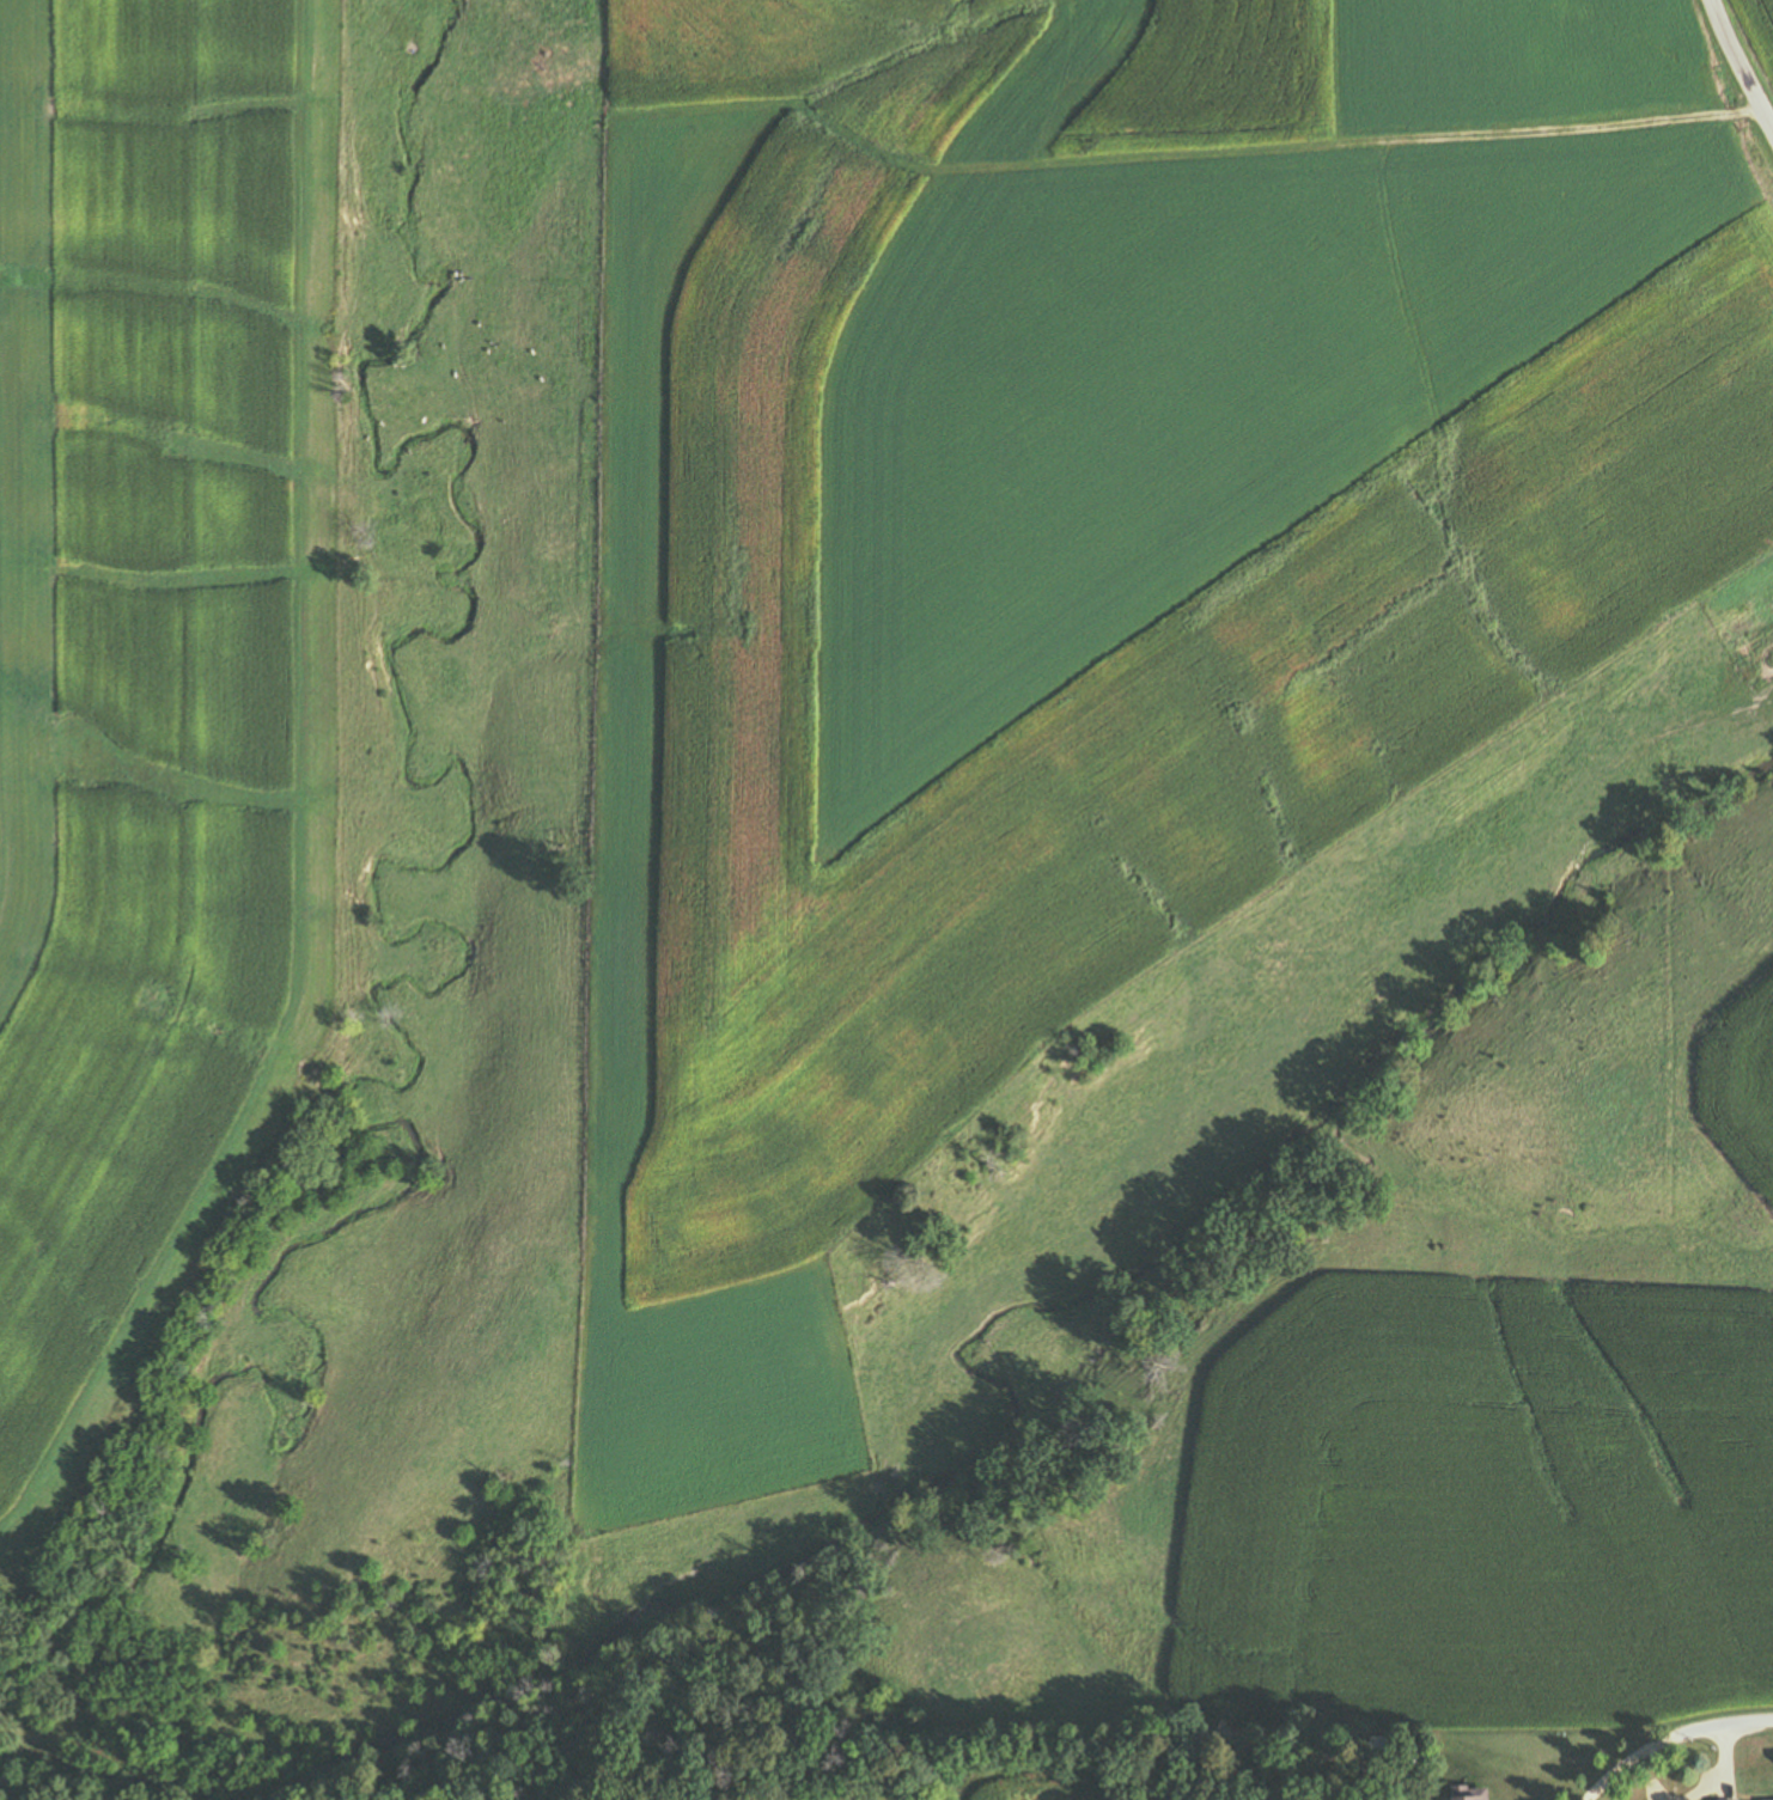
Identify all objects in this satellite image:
road: (1740, 67)
road: (1671, 1741)
building: (1476, 1794)

